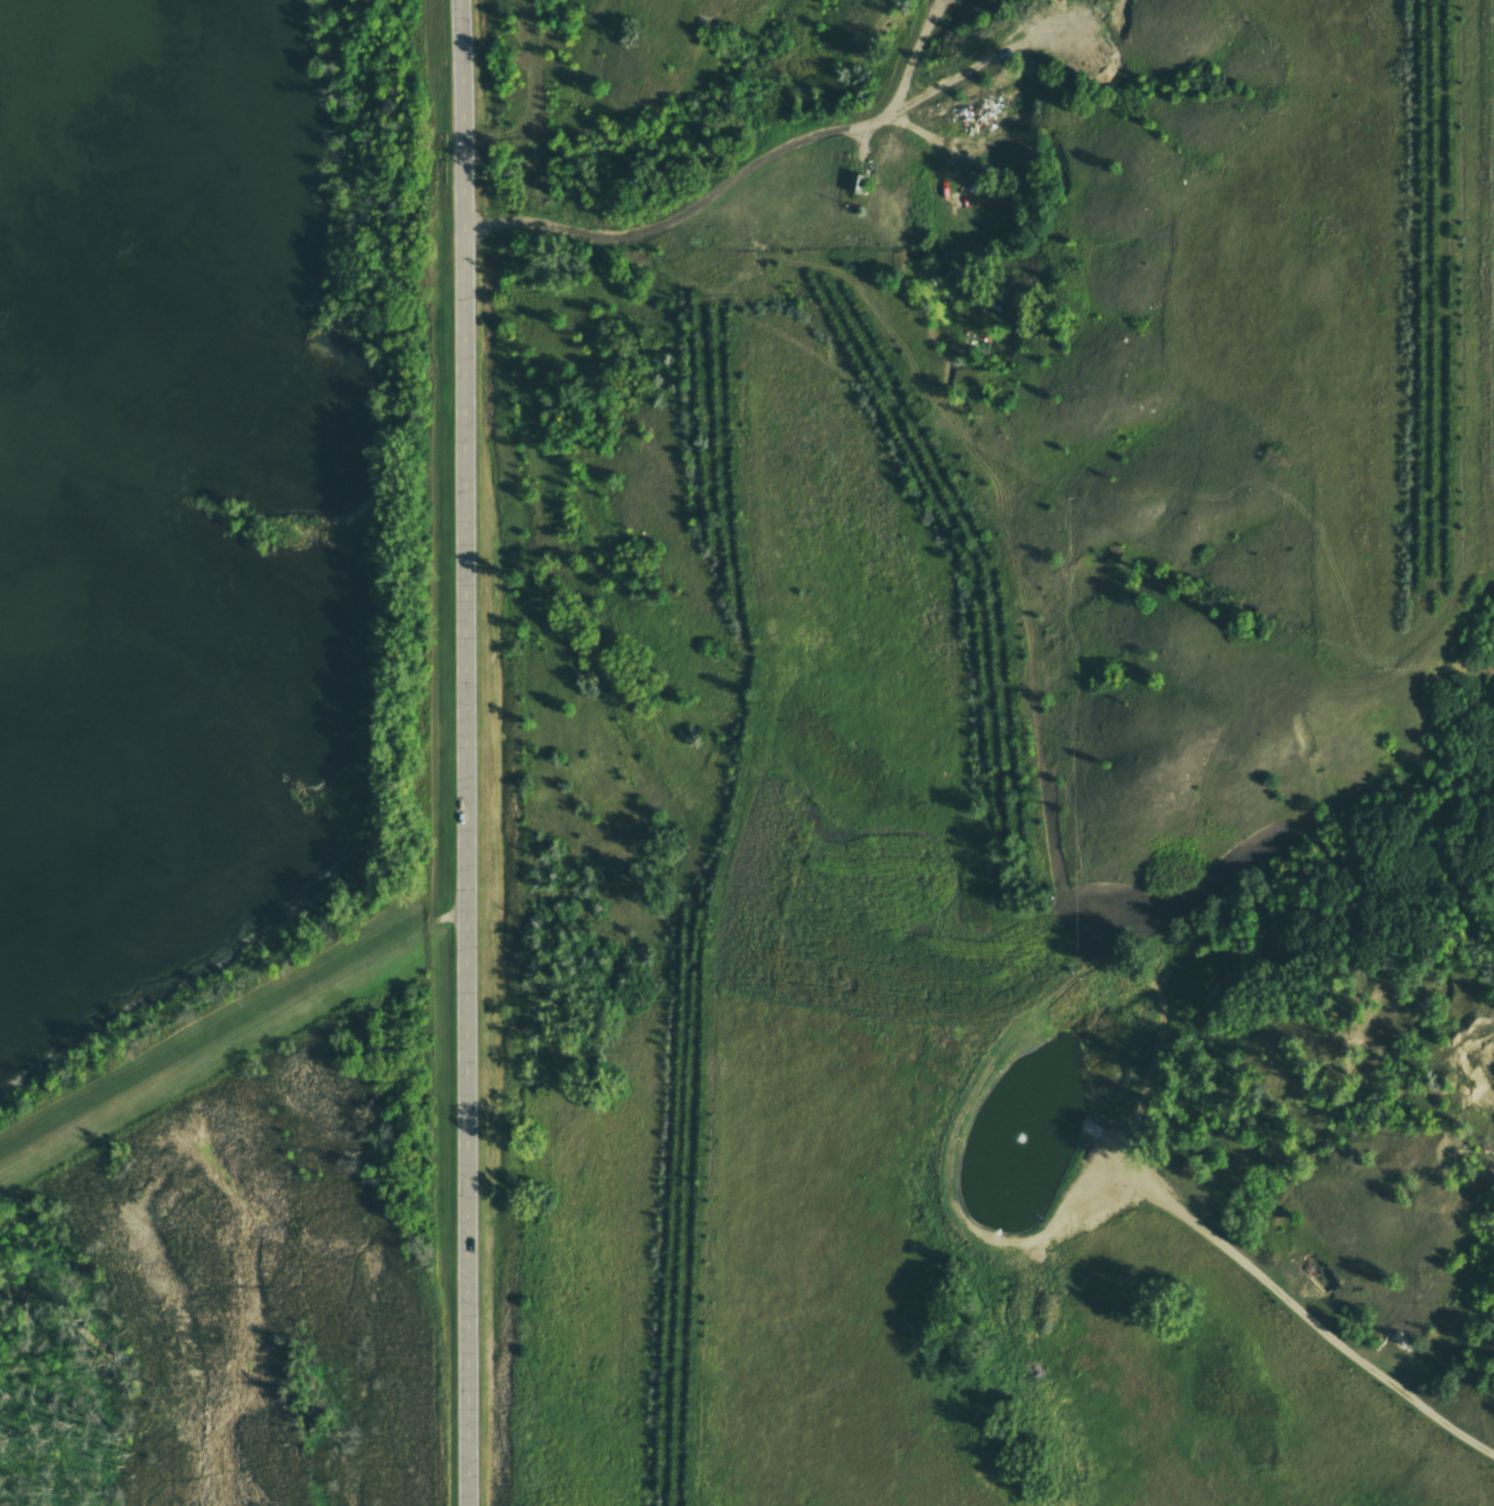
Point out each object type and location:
building: (856, 184)
road: (467, 752)
road: (232, 1033)
road: (308, 1353)

